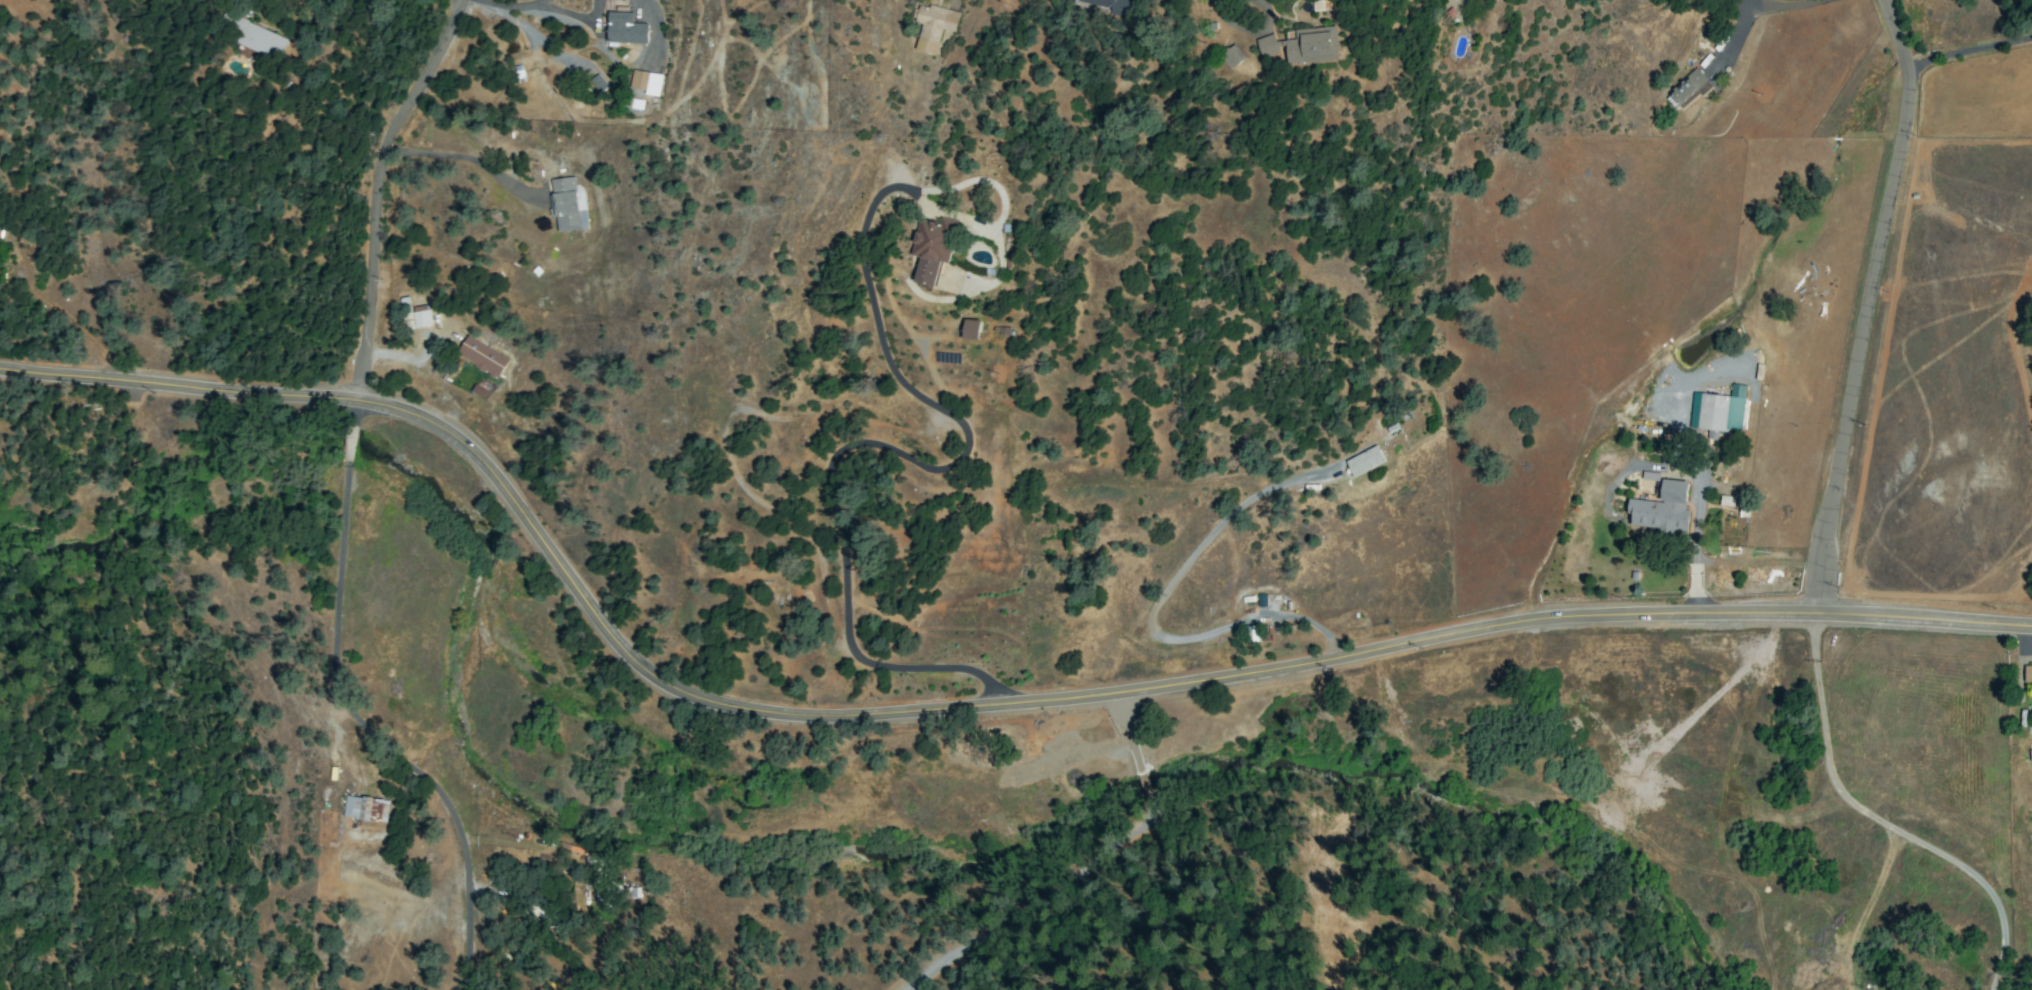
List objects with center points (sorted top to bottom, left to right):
road: (546, 1)
road: (518, 5)
building: (1113, 5)
road: (1751, 10)
road: (576, 15)
building: (933, 26)
building: (625, 28)
road: (1251, 29)
building: (257, 37)
building: (1303, 45)
building: (1231, 57)
road: (1972, 57)
building: (645, 82)
building: (1686, 90)
road: (459, 156)
road: (372, 186)
building: (566, 205)
building: (932, 248)
road: (1870, 305)
building: (414, 314)
building: (971, 329)
building: (472, 351)
building: (1718, 410)
road: (885, 449)
building: (1364, 461)
building: (1650, 476)
building: (1726, 500)
building: (1661, 509)
road: (1694, 551)
road: (1152, 610)
building: (2027, 673)
road: (955, 710)
road: (351, 714)
building: (365, 808)
road: (1881, 821)

